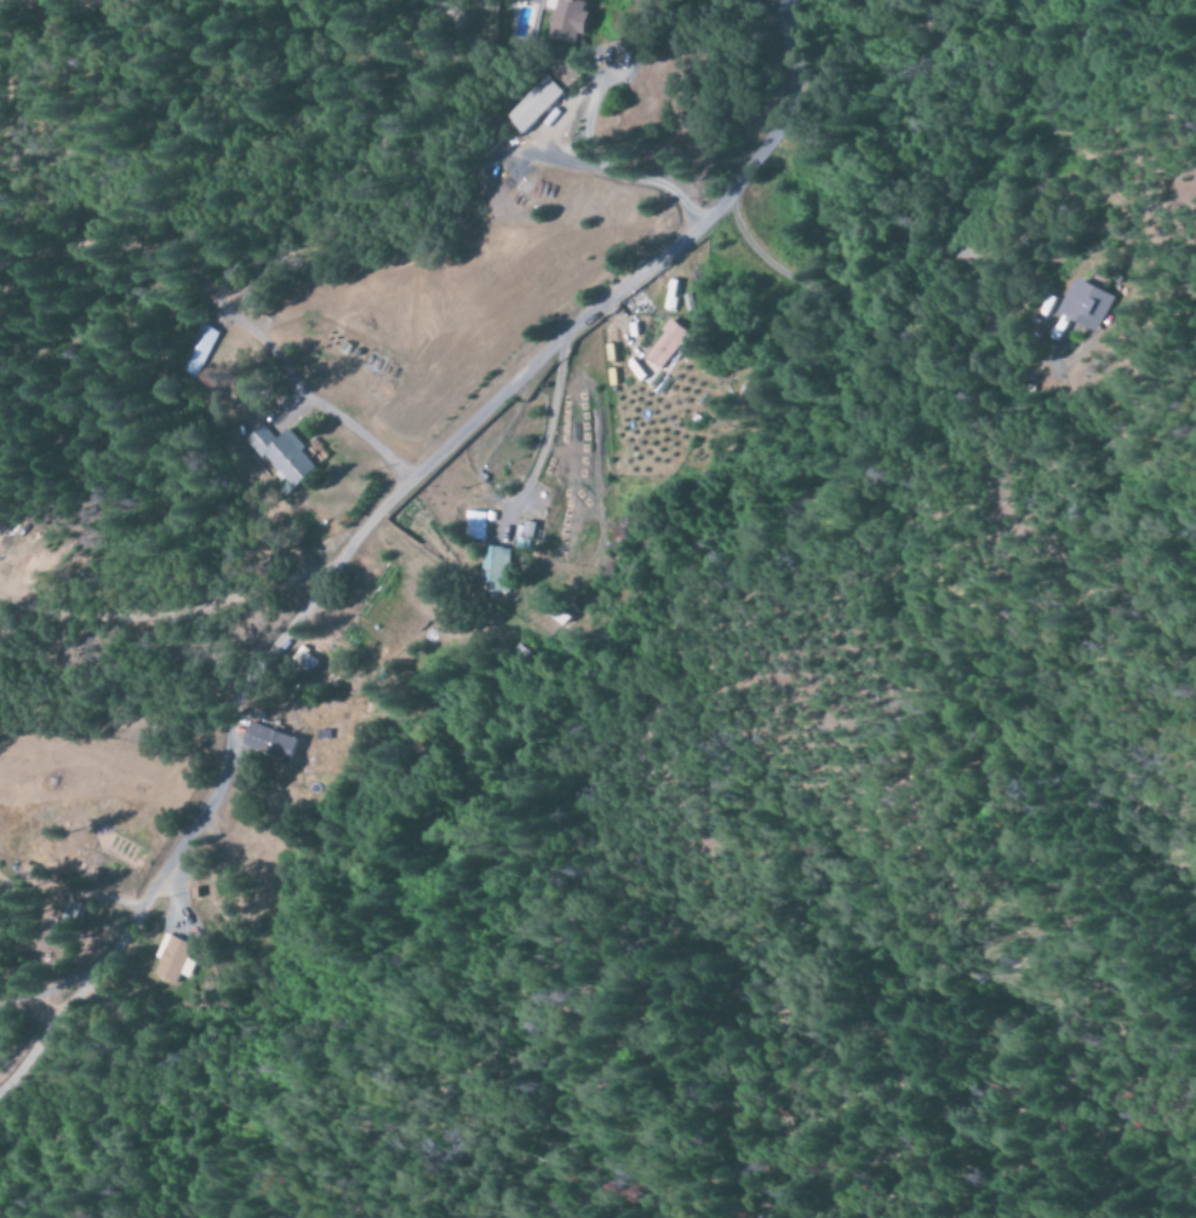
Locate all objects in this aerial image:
building: (567, 21)
building: (563, 74)
building: (532, 104)
building: (1088, 304)
building: (669, 344)
building: (193, 351)
building: (284, 457)
road: (378, 521)
building: (476, 525)
building: (494, 570)
building: (271, 743)
building: (28, 873)
building: (173, 960)

